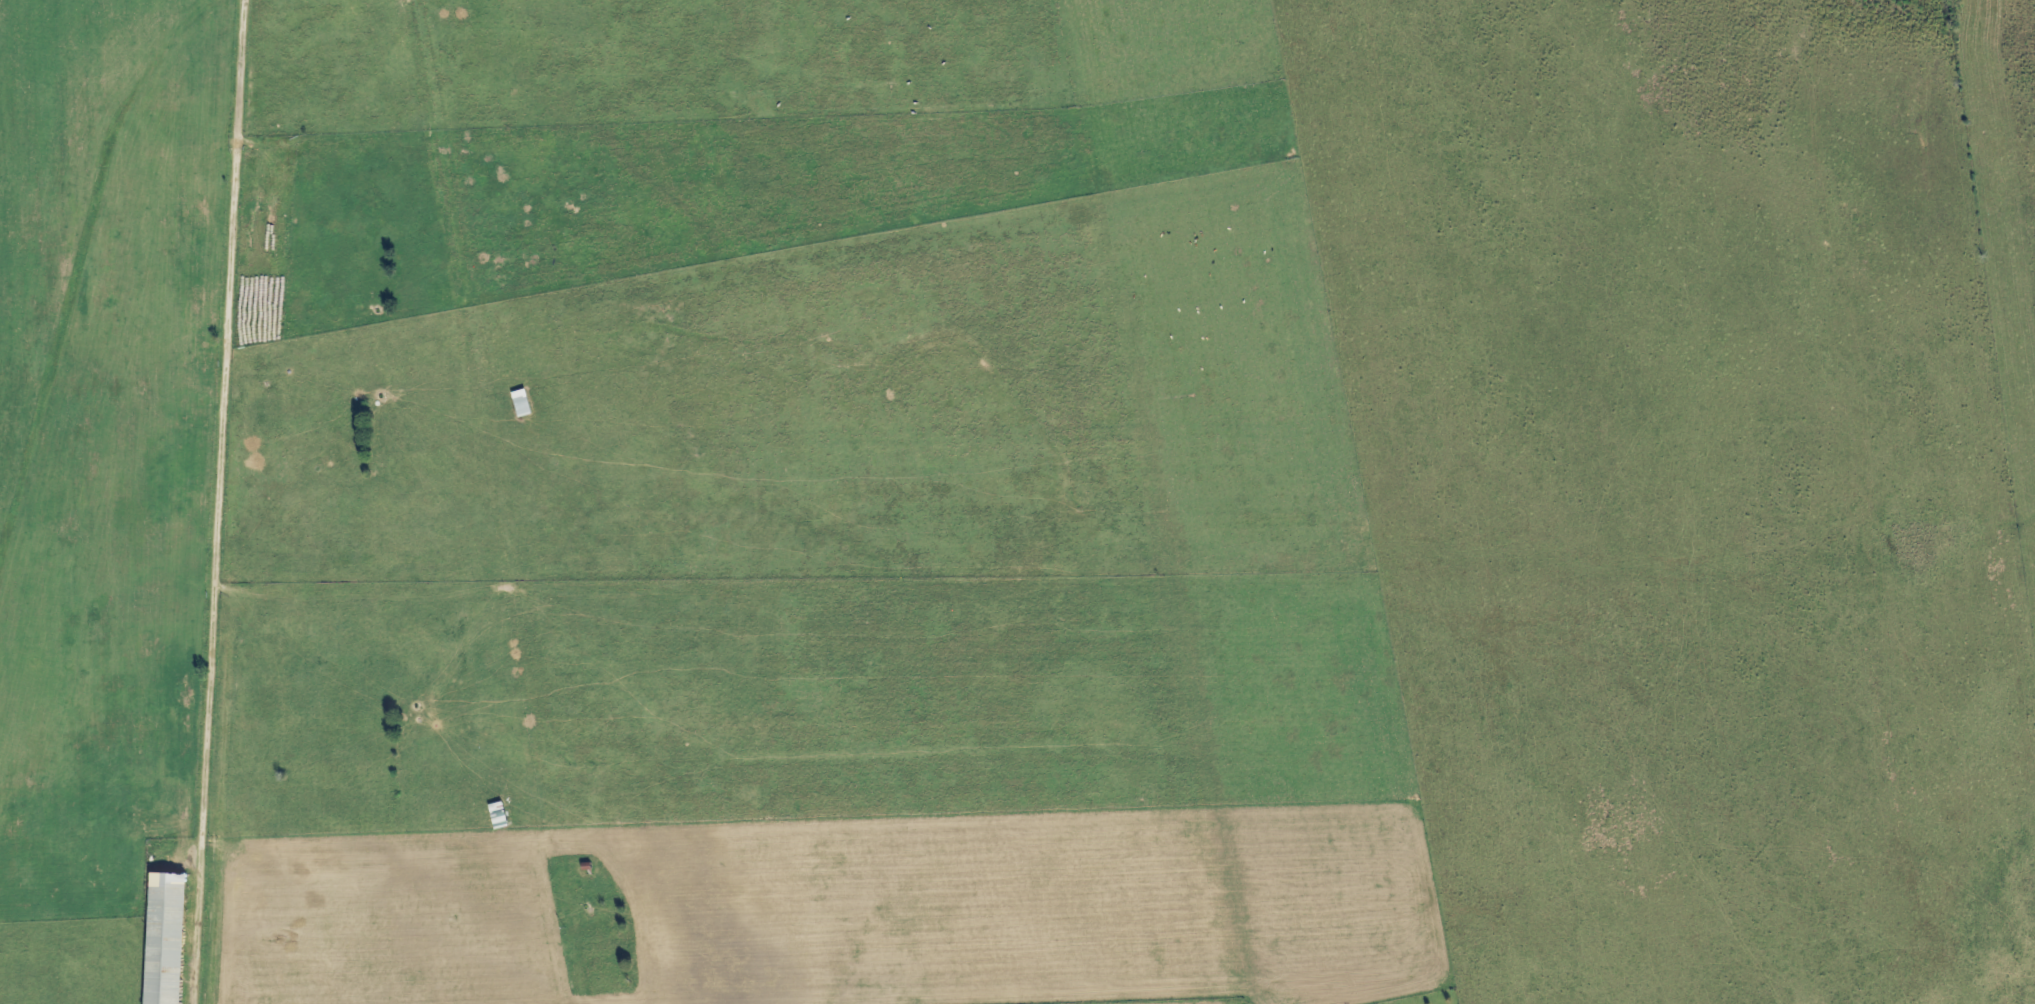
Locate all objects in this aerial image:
road: (201, 916)

